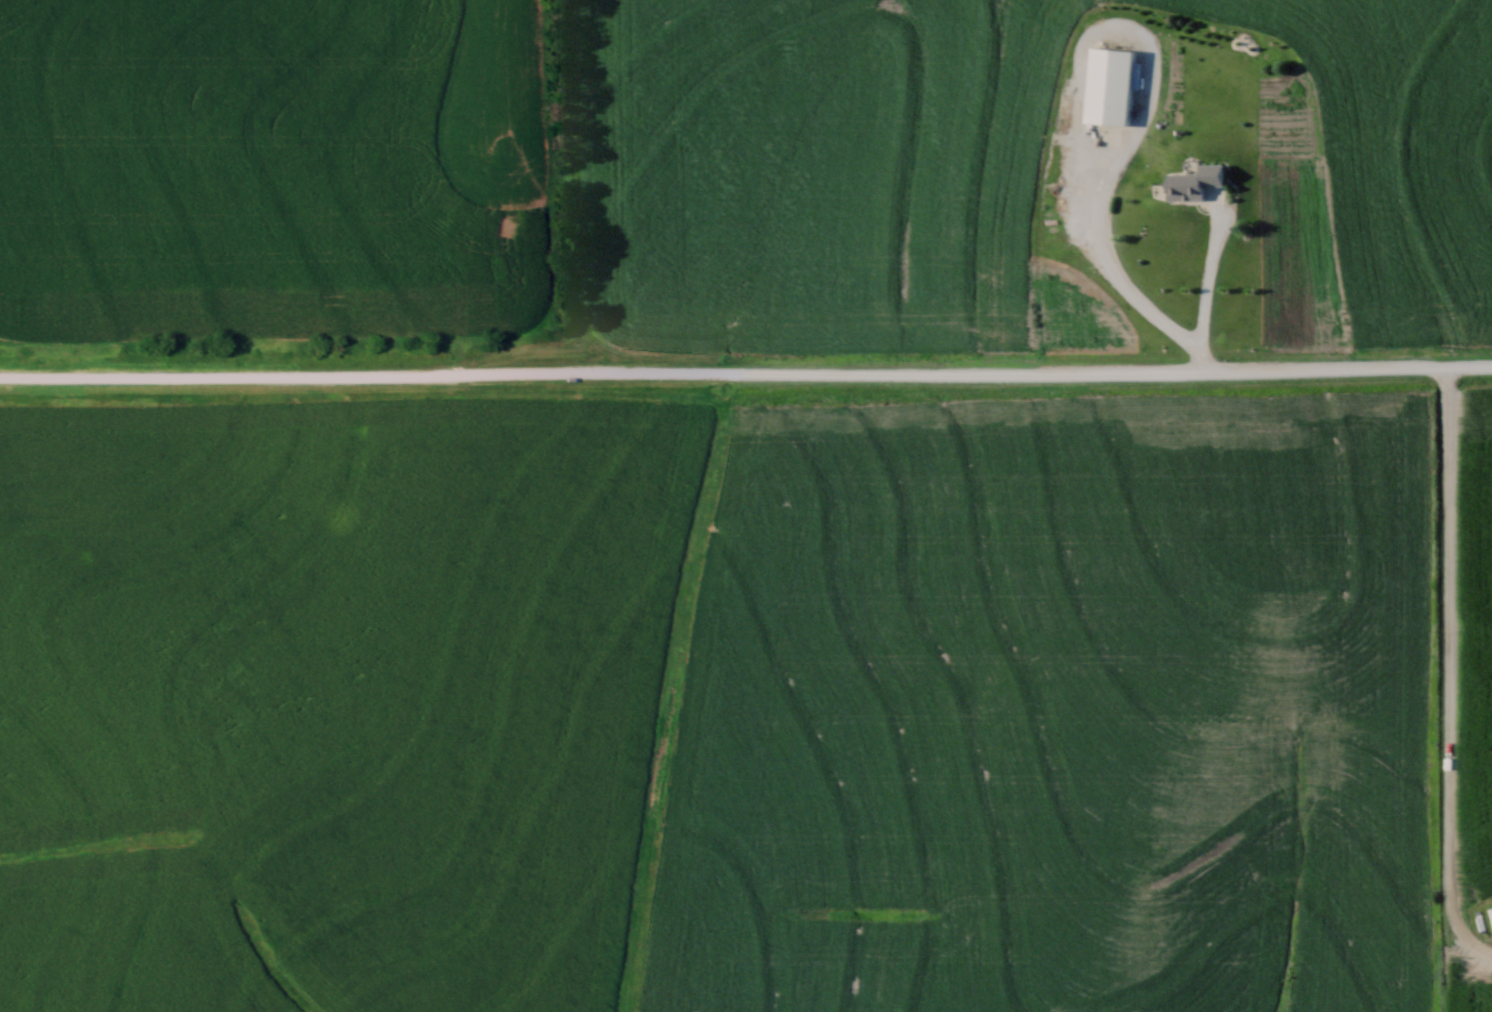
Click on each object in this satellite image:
building: (1108, 86)
road: (1080, 99)
building: (1193, 182)
road: (1204, 300)
road: (745, 375)
road: (1447, 676)

